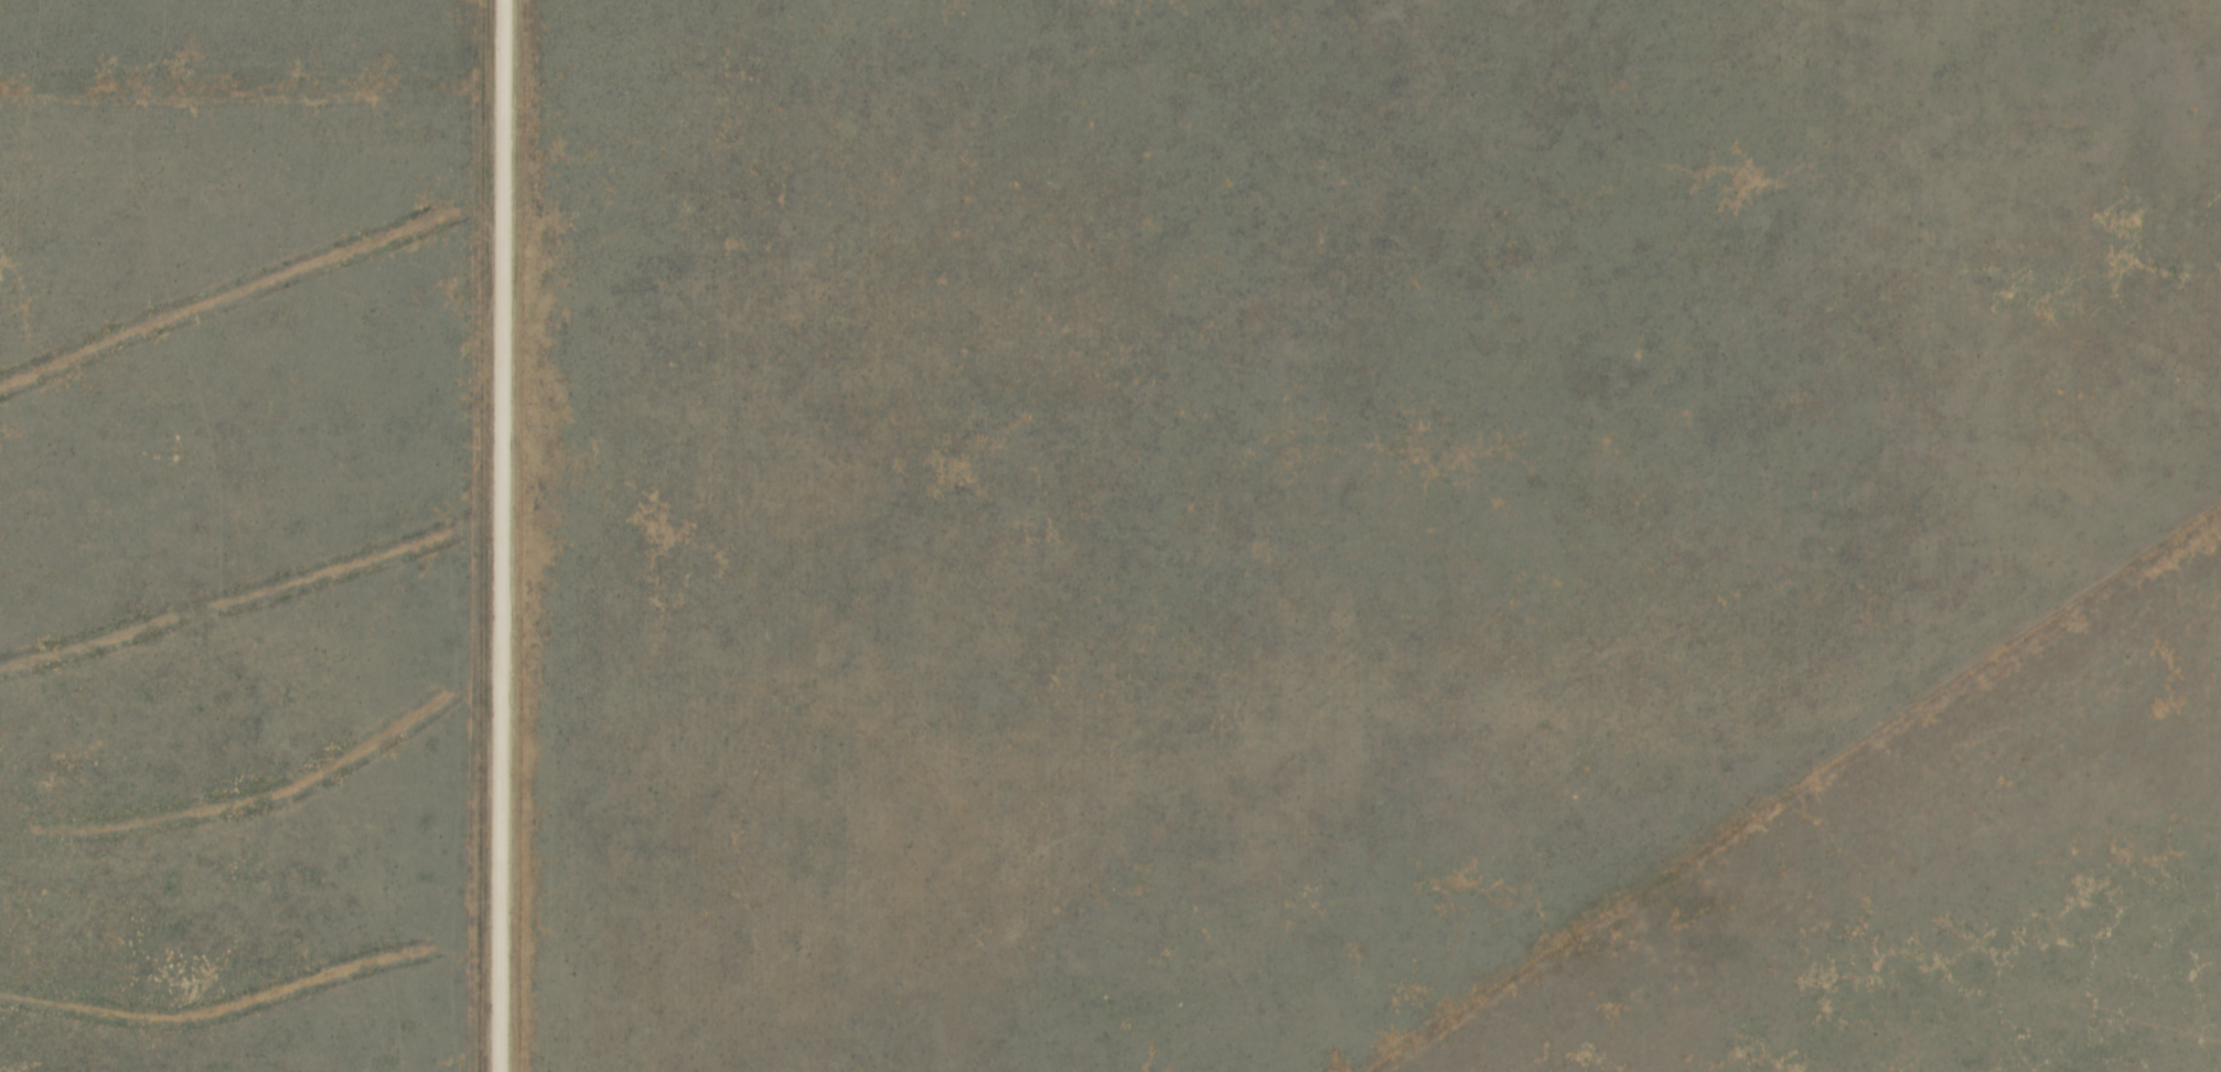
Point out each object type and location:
road: (502, 535)

